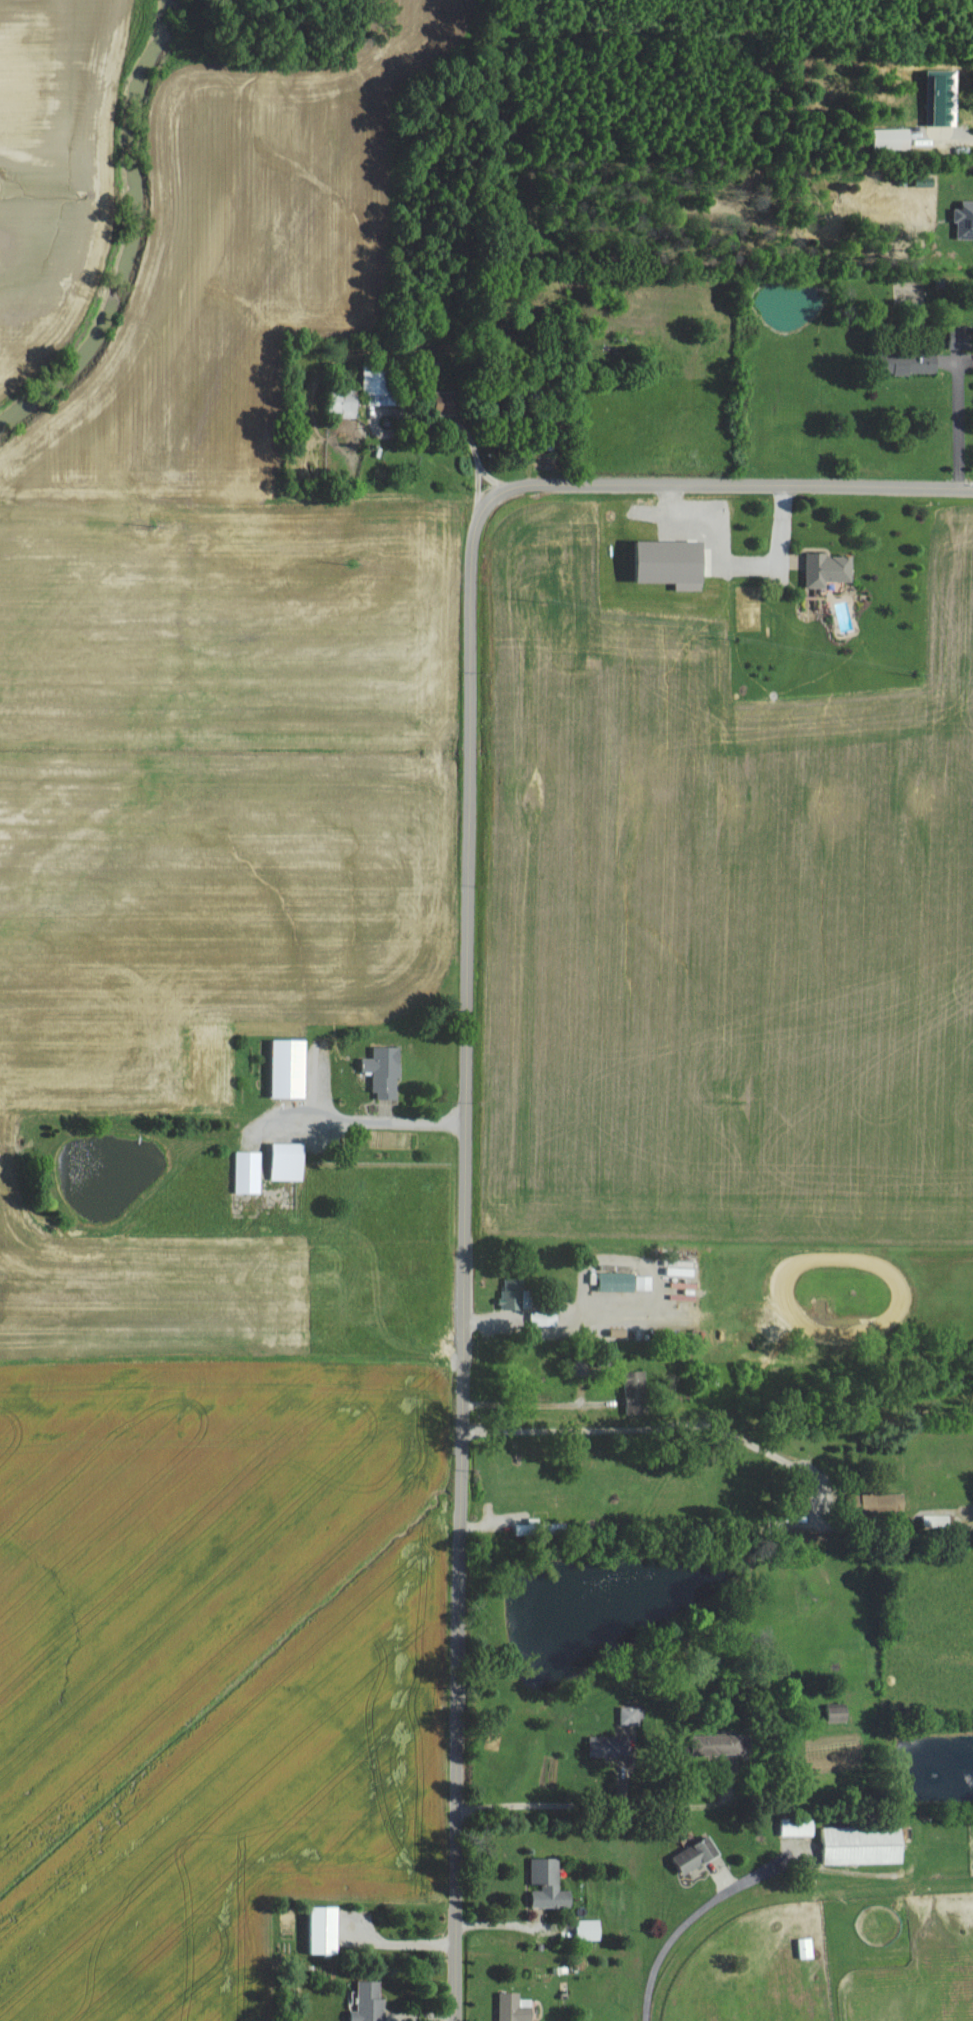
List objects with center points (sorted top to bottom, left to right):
building: (943, 99)
building: (894, 140)
road: (956, 143)
building: (965, 221)
building: (962, 337)
building: (911, 363)
building: (378, 383)
building: (450, 404)
building: (345, 406)
road: (959, 420)
road: (723, 485)
building: (674, 562)
building: (829, 569)
building: (291, 1068)
building: (386, 1071)
road: (372, 1127)
building: (290, 1161)
building: (250, 1172)
road: (461, 1252)
building: (618, 1278)
building: (646, 1283)
building: (687, 1293)
building: (518, 1295)
building: (543, 1319)
building: (582, 1368)
building: (639, 1392)
road: (656, 1427)
building: (885, 1502)
building: (938, 1521)
building: (541, 1529)
building: (840, 1715)
building: (722, 1744)
building: (611, 1747)
road: (587, 1805)
building: (799, 1827)
building: (864, 1845)
building: (698, 1856)
building: (550, 1885)
building: (590, 1930)
building: (326, 1931)
road: (677, 1935)
building: (808, 1948)
building: (371, 2003)

